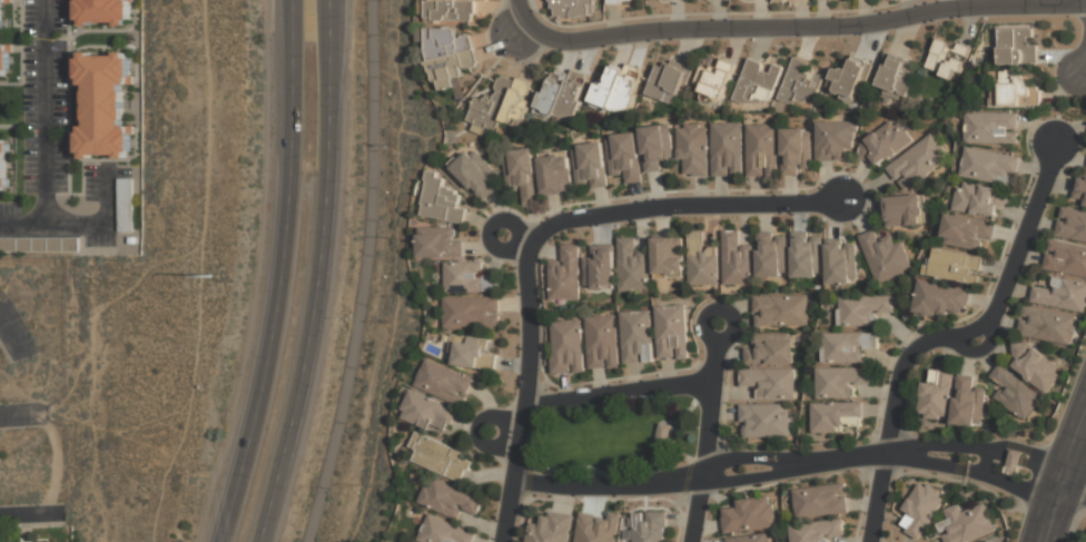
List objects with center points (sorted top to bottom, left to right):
building: (619, 1)
building: (572, 8)
building: (102, 11)
building: (451, 11)
road: (522, 13)
road: (792, 27)
building: (4, 45)
building: (1019, 46)
building: (447, 55)
building: (948, 59)
road: (1083, 69)
building: (897, 75)
building: (850, 78)
building: (715, 79)
building: (669, 81)
building: (757, 81)
building: (800, 82)
building: (1014, 88)
building: (618, 90)
building: (562, 93)
building: (102, 104)
building: (503, 104)
building: (993, 127)
road: (45, 135)
building: (833, 139)
building: (886, 145)
building: (655, 147)
building: (693, 148)
building: (728, 149)
building: (762, 150)
building: (796, 150)
building: (624, 156)
building: (917, 161)
building: (3, 165)
building: (590, 166)
building: (989, 166)
building: (475, 173)
building: (537, 175)
building: (1080, 191)
building: (980, 199)
building: (442, 200)
building: (125, 205)
road: (665, 206)
building: (906, 210)
building: (1072, 225)
building: (967, 231)
building: (39, 244)
building: (438, 244)
building: (807, 254)
building: (772, 255)
building: (669, 257)
building: (886, 257)
building: (1065, 258)
building: (737, 259)
building: (702, 260)
building: (841, 262)
building: (957, 267)
building: (594, 270)
power tower: (207, 274)
road: (280, 274)
road: (318, 274)
road: (367, 274)
building: (466, 280)
building: (1060, 294)
building: (942, 299)
building: (781, 311)
building: (863, 311)
building: (471, 314)
building: (1047, 325)
building: (672, 332)
parking lot: (16, 333)
road: (948, 336)
road: (10, 339)
building: (601, 343)
building: (848, 346)
building: (771, 349)
road: (978, 349)
building: (473, 354)
building: (1035, 365)
building: (769, 382)
building: (841, 382)
building: (443, 383)
building: (1015, 393)
road: (524, 394)
road: (616, 396)
building: (951, 397)
road: (708, 401)
road: (22, 408)
building: (427, 412)
building: (836, 416)
parking lot: (18, 421)
building: (764, 421)
building: (664, 433)
park: (614, 440)
road: (927, 446)
building: (441, 457)
road: (750, 460)
road: (846, 460)
road: (1023, 461)
road: (1055, 461)
building: (1014, 462)
road: (926, 465)
road: (753, 476)
road: (1080, 477)
road: (608, 485)
road: (1017, 487)
road: (1068, 495)
road: (1077, 496)
building: (448, 500)
building: (822, 501)
road: (697, 510)
building: (920, 511)
road: (31, 514)
building: (749, 516)
road: (1075, 516)
building: (966, 524)
building: (648, 528)
building: (550, 529)
building: (596, 529)
building: (818, 531)
building: (443, 532)
building: (748, 539)
building: (9, 541)
building: (405, 541)
building: (980, 541)

